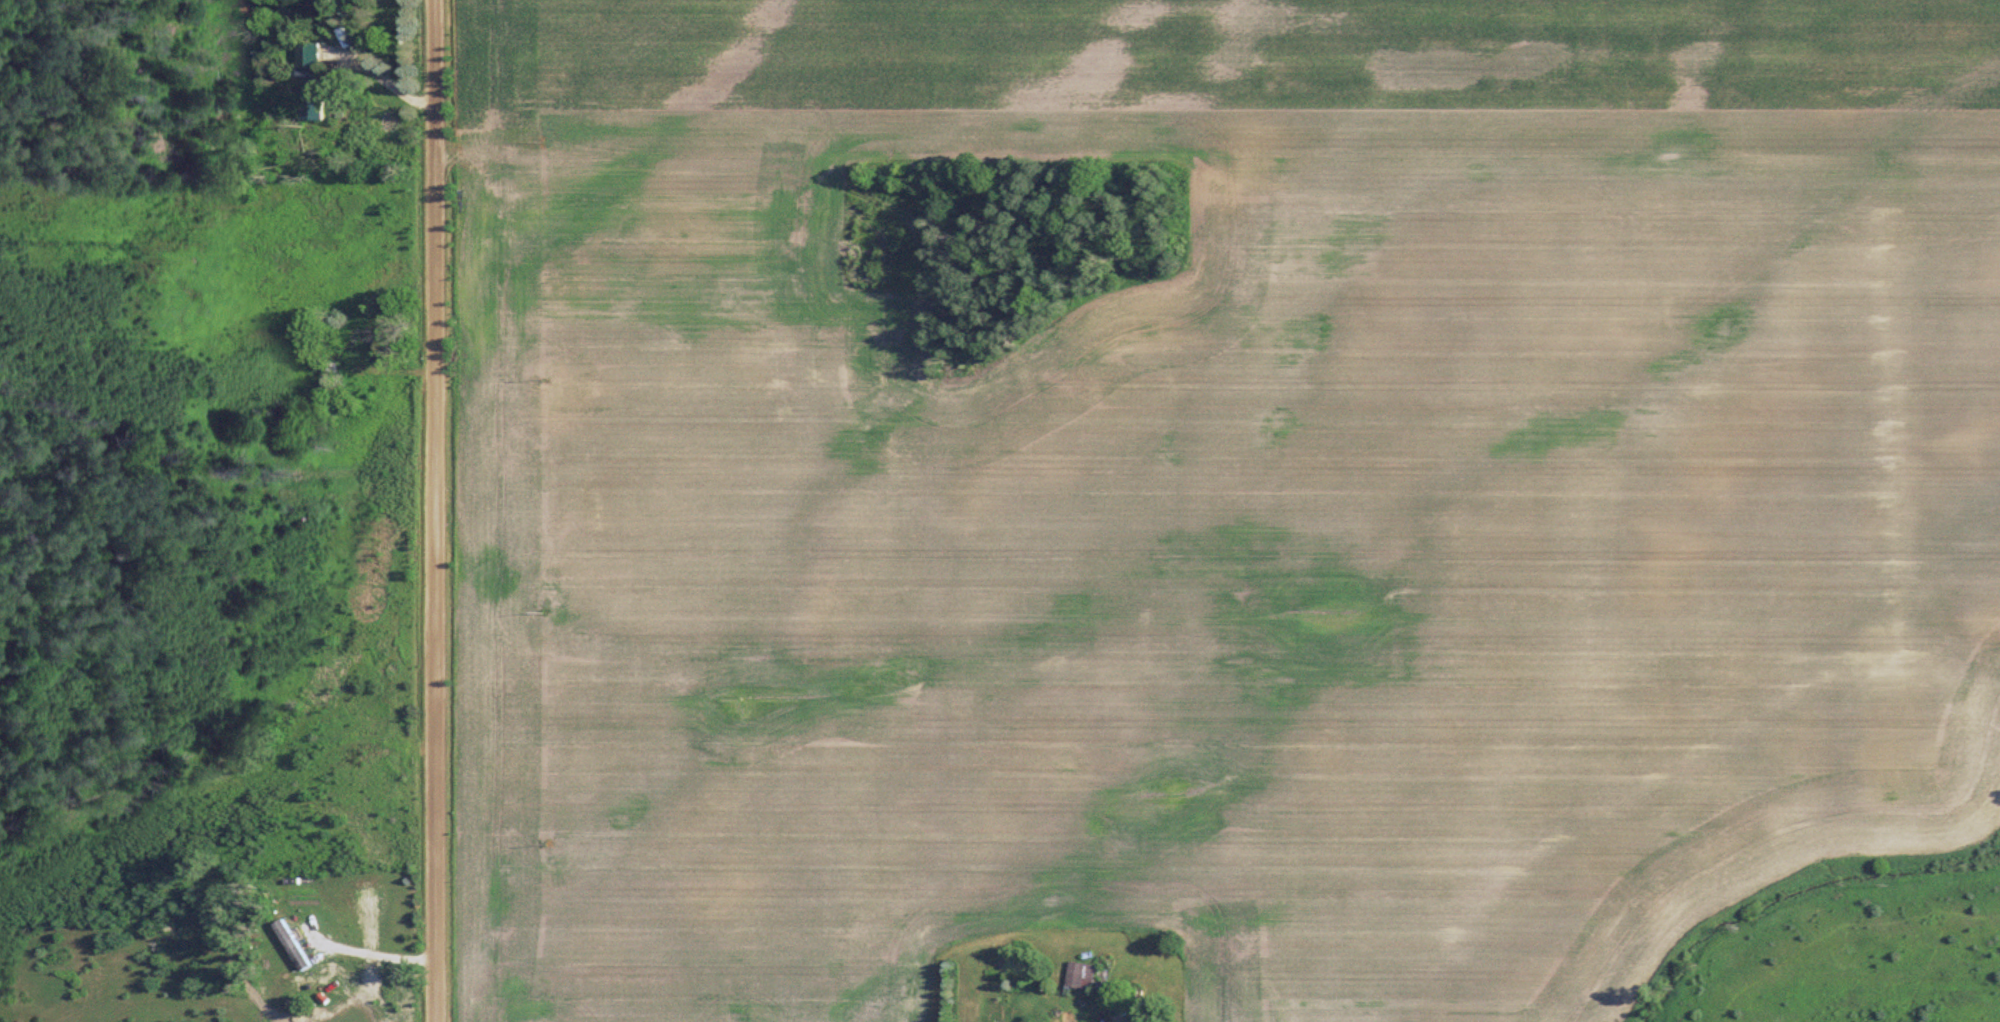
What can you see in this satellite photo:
building: (311, 53)
building: (314, 104)
building: (367, 344)
road: (436, 511)
building: (295, 945)
road: (374, 953)
building: (1083, 974)

